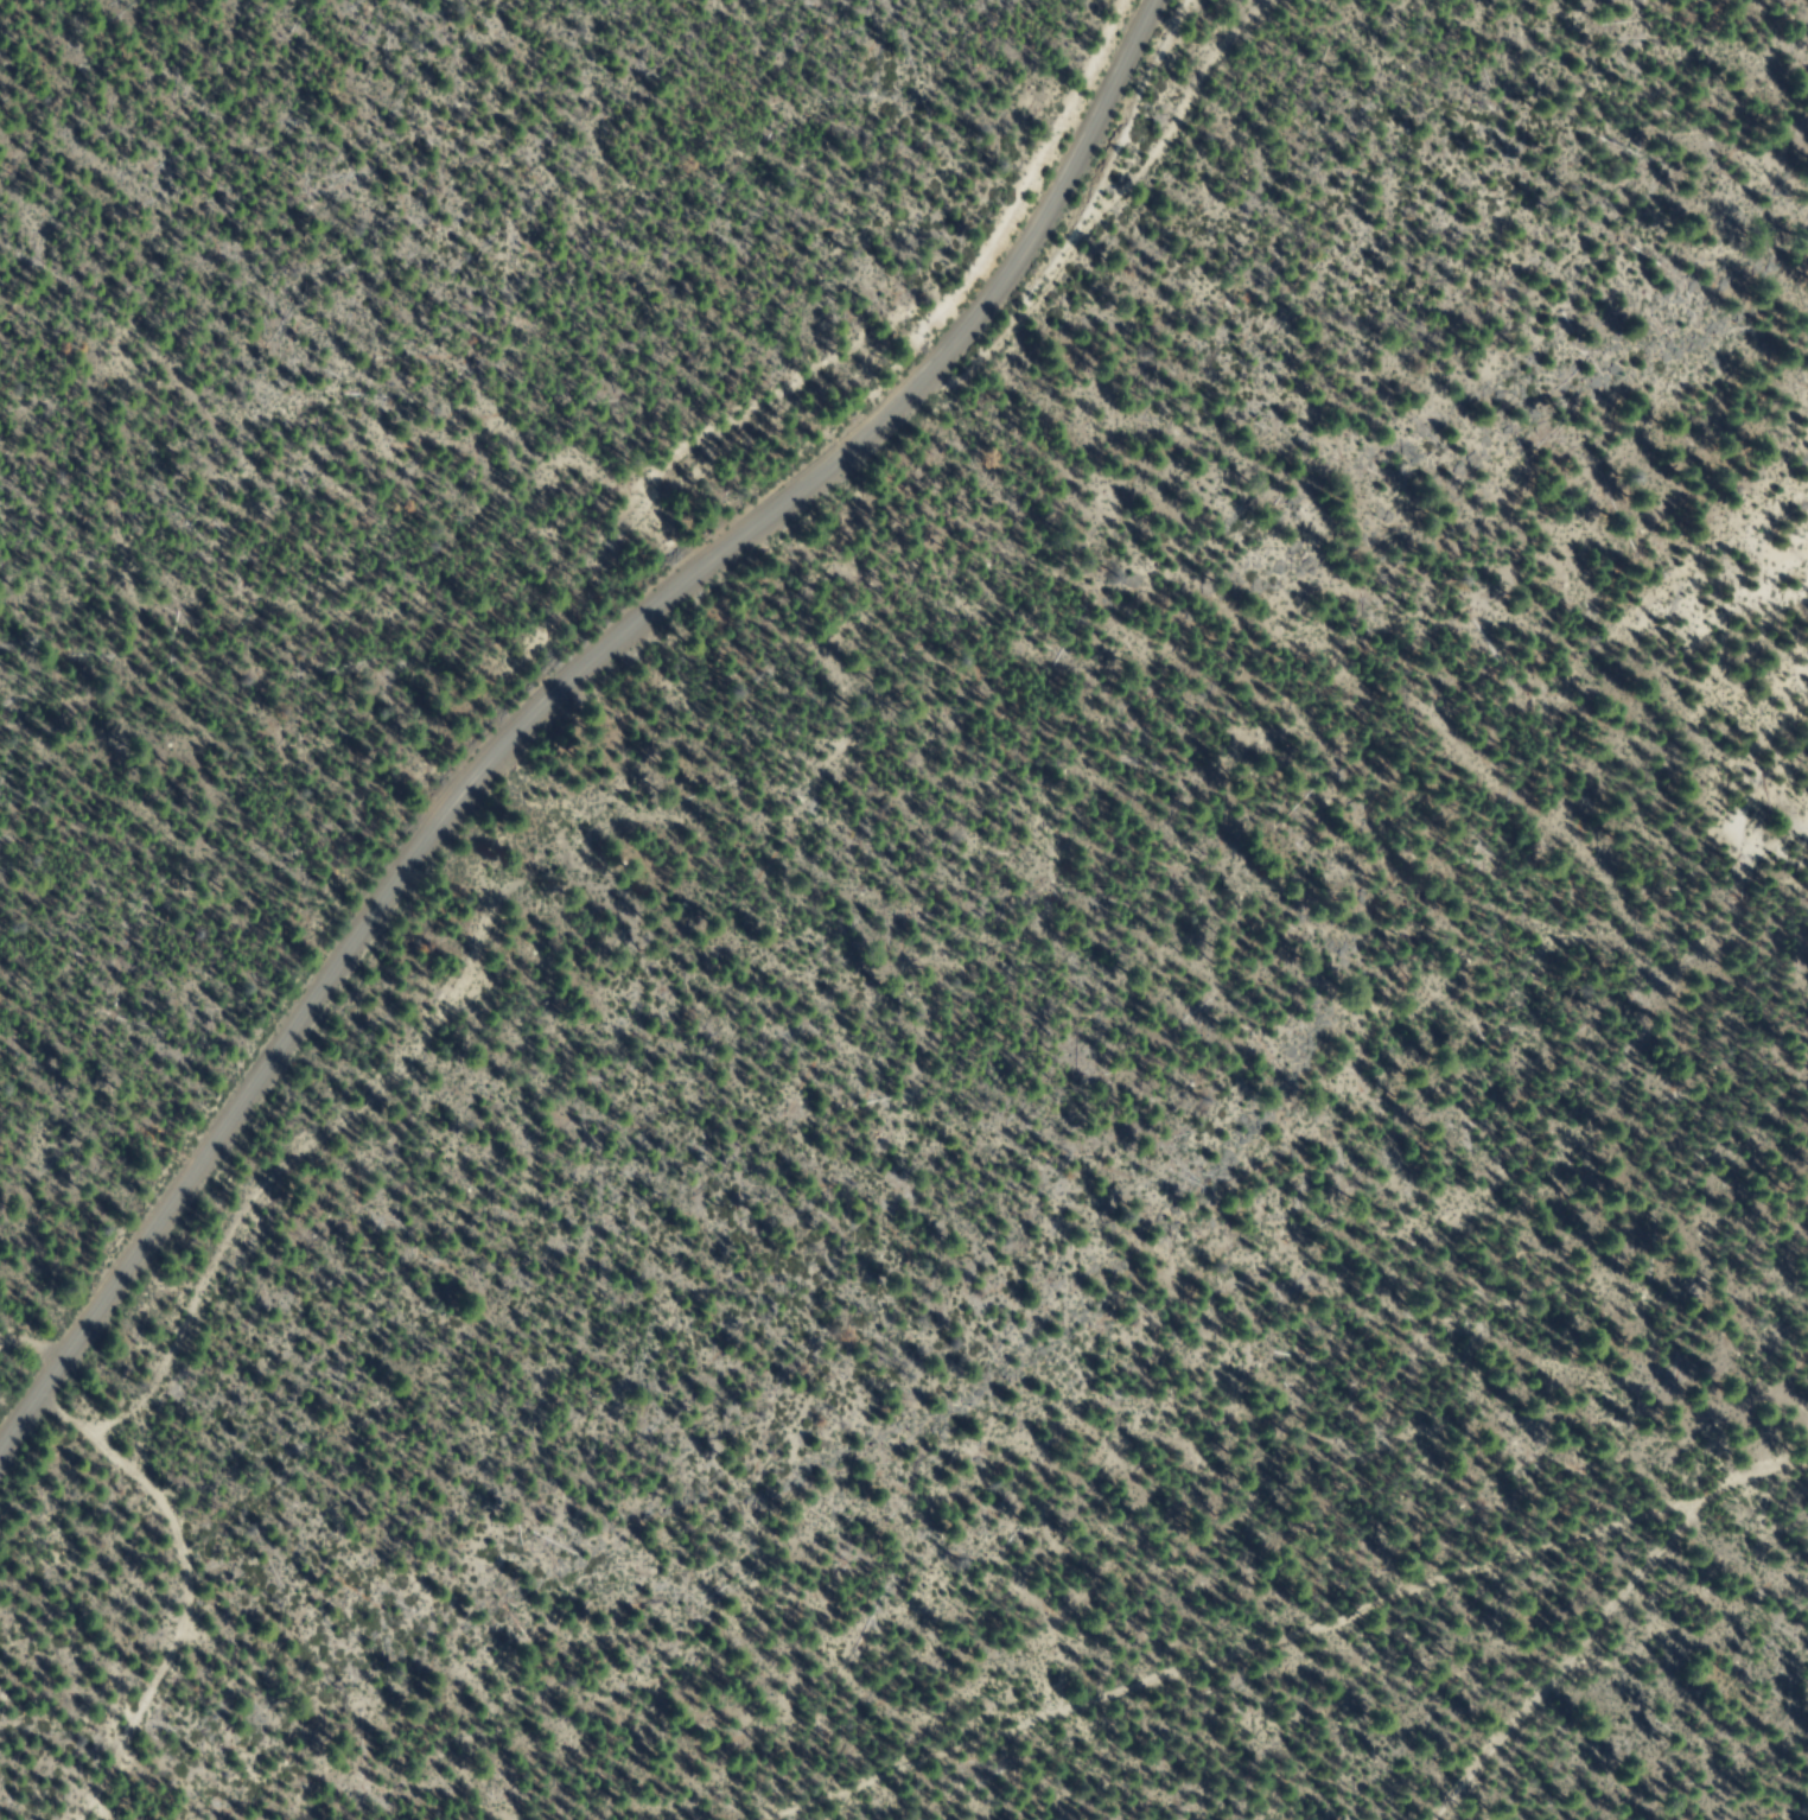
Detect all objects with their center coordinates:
road: (1144, 189)
road: (553, 702)
road: (187, 1555)
road: (1292, 1630)
road: (1583, 1655)

